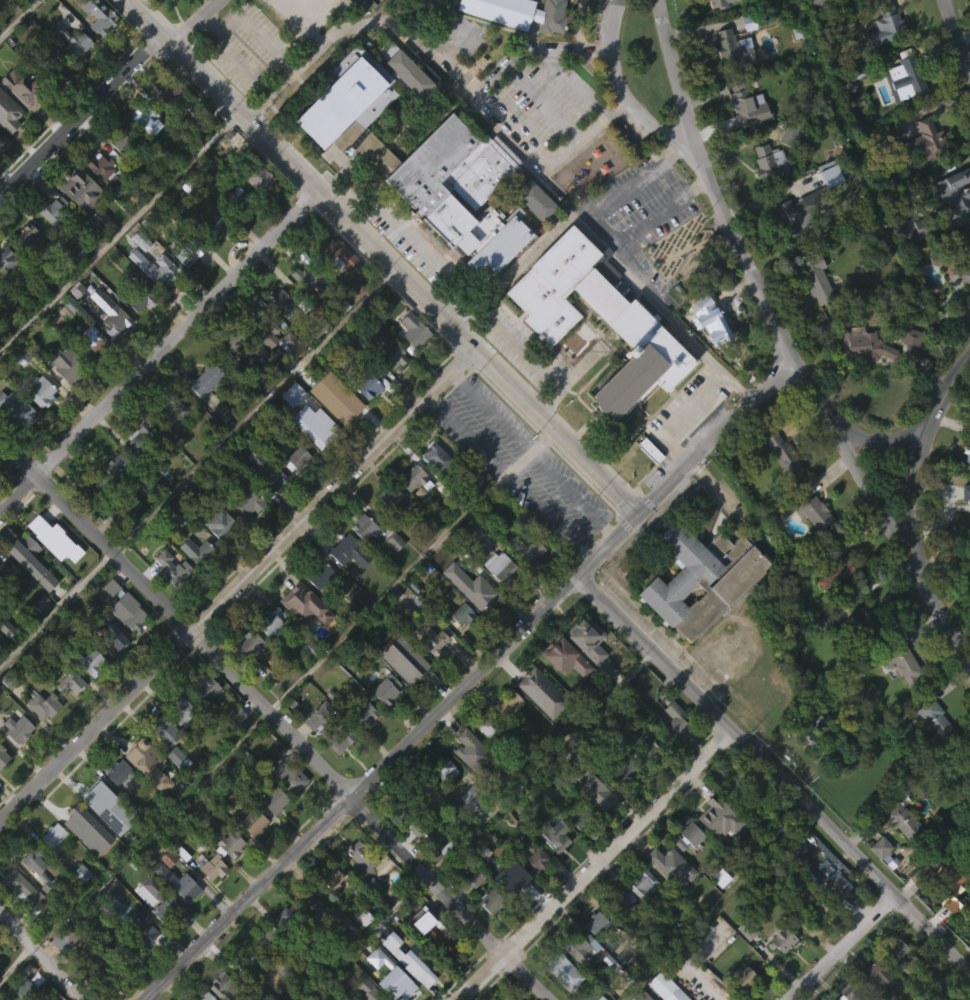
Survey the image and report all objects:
road: (272, 0)
building: (182, 1)
building: (747, 1)
building: (860, 1)
building: (718, 3)
building: (361, 7)
building: (519, 13)
building: (153, 14)
building: (99, 16)
road: (19, 19)
building: (757, 19)
building: (844, 19)
building: (888, 20)
road: (297, 21)
building: (713, 22)
road: (575, 23)
road: (958, 33)
road: (332, 35)
building: (507, 37)
building: (73, 41)
building: (96, 46)
road: (582, 47)
building: (734, 49)
building: (881, 57)
road: (441, 58)
building: (59, 64)
road: (673, 69)
road: (563, 70)
building: (409, 72)
road: (511, 72)
building: (908, 77)
building: (730, 81)
building: (22, 87)
road: (622, 87)
building: (173, 92)
road: (103, 94)
building: (57, 95)
building: (744, 102)
building: (900, 111)
building: (8, 112)
road: (502, 113)
building: (147, 117)
road: (592, 125)
building: (169, 128)
building: (797, 135)
building: (0, 136)
building: (123, 138)
building: (745, 140)
building: (925, 141)
building: (144, 152)
road: (699, 158)
building: (421, 161)
building: (768, 161)
building: (0, 167)
building: (104, 167)
building: (788, 167)
building: (120, 173)
building: (923, 173)
building: (257, 174)
road: (644, 176)
building: (84, 190)
building: (766, 193)
building: (954, 193)
building: (538, 199)
building: (102, 201)
building: (238, 201)
building: (826, 205)
building: (55, 209)
building: (256, 210)
building: (800, 211)
road: (665, 215)
building: (79, 222)
building: (211, 223)
building: (952, 225)
building: (236, 230)
building: (532, 233)
road: (409, 234)
building: (30, 236)
building: (53, 243)
road: (686, 245)
building: (792, 245)
road: (604, 250)
building: (95, 251)
road: (388, 251)
building: (189, 252)
building: (337, 252)
road: (528, 253)
building: (212, 256)
building: (916, 259)
building: (9, 262)
building: (27, 268)
building: (163, 269)
building: (138, 271)
building: (967, 272)
building: (309, 276)
building: (814, 279)
building: (185, 285)
building: (336, 286)
building: (933, 290)
building: (5, 291)
building: (135, 291)
building: (121, 297)
building: (281, 299)
building: (161, 301)
building: (964, 307)
building: (305, 309)
building: (111, 310)
building: (812, 311)
building: (713, 321)
building: (75, 322)
building: (258, 322)
building: (2, 329)
building: (415, 329)
building: (634, 330)
road: (679, 330)
building: (277, 332)
building: (138, 333)
building: (912, 336)
building: (235, 339)
building: (91, 340)
building: (107, 341)
building: (866, 345)
road: (161, 350)
building: (391, 352)
road: (527, 353)
building: (409, 361)
building: (266, 363)
building: (66, 364)
building: (907, 369)
building: (228, 372)
building: (89, 373)
building: (285, 373)
road: (803, 373)
building: (205, 378)
building: (861, 379)
building: (369, 380)
building: (386, 384)
road: (949, 389)
building: (19, 390)
building: (41, 390)
building: (296, 396)
building: (66, 398)
building: (346, 405)
building: (171, 409)
building: (16, 410)
building: (202, 411)
building: (365, 415)
road: (677, 416)
building: (38, 422)
building: (292, 428)
building: (318, 431)
road: (883, 436)
building: (143, 438)
building: (14, 441)
building: (165, 443)
building: (219, 443)
building: (652, 449)
building: (781, 452)
road: (532, 453)
building: (298, 456)
building: (437, 456)
building: (968, 456)
road: (200, 462)
building: (117, 464)
building: (314, 464)
building: (138, 469)
building: (267, 469)
road: (509, 476)
building: (410, 477)
building: (646, 481)
building: (778, 485)
building: (92, 487)
building: (965, 487)
building: (292, 490)
building: (433, 490)
road: (920, 493)
building: (114, 497)
building: (250, 499)
building: (391, 499)
building: (472, 510)
building: (811, 510)
building: (150, 511)
building: (412, 511)
building: (967, 511)
building: (89, 518)
building: (366, 526)
building: (387, 527)
building: (48, 530)
building: (246, 534)
building: (480, 534)
building: (810, 545)
building: (969, 549)
building: (177, 550)
building: (198, 551)
building: (533, 551)
building: (216, 554)
building: (362, 559)
building: (34, 561)
road: (411, 567)
building: (842, 567)
building: (173, 568)
building: (504, 569)
building: (51, 571)
building: (392, 573)
building: (454, 574)
building: (9, 576)
building: (322, 578)
building: (704, 578)
building: (193, 582)
road: (240, 582)
building: (346, 583)
building: (528, 583)
building: (28, 592)
building: (480, 592)
building: (496, 597)
building: (169, 599)
building: (6, 603)
building: (301, 603)
building: (833, 606)
building: (125, 607)
road: (941, 611)
building: (698, 612)
building: (463, 614)
building: (109, 620)
building: (271, 621)
building: (866, 626)
building: (355, 630)
building: (36, 632)
building: (113, 636)
building: (302, 636)
building: (586, 638)
building: (434, 640)
building: (251, 645)
building: (458, 645)
building: (861, 650)
building: (269, 653)
building: (562, 656)
building: (4, 660)
building: (89, 661)
building: (902, 662)
building: (110, 667)
building: (411, 668)
building: (584, 671)
building: (430, 672)
building: (248, 677)
road: (469, 680)
building: (71, 681)
building: (206, 687)
building: (387, 689)
building: (561, 689)
building: (541, 691)
building: (87, 693)
building: (899, 696)
building: (510, 703)
building: (44, 705)
building: (185, 711)
building: (267, 711)
building: (364, 712)
building: (68, 714)
building: (203, 717)
building: (935, 718)
road: (275, 719)
building: (383, 720)
building: (675, 722)
building: (539, 724)
building: (332, 726)
building: (491, 727)
building: (18, 729)
building: (163, 729)
building: (506, 735)
building: (41, 737)
building: (179, 741)
building: (361, 744)
building: (316, 747)
building: (467, 747)
building: (930, 750)
building: (810, 752)
building: (649, 753)
building: (673, 754)
building: (3, 756)
building: (178, 758)
building: (486, 758)
building: (161, 761)
building: (444, 768)
building: (121, 770)
building: (337, 771)
building: (624, 772)
road: (773, 772)
building: (289, 776)
building: (466, 780)
building: (741, 786)
building: (2, 787)
building: (172, 787)
building: (422, 789)
building: (98, 792)
building: (600, 795)
building: (145, 796)
building: (274, 800)
building: (441, 800)
building: (114, 802)
building: (618, 805)
building: (403, 808)
building: (75, 813)
building: (582, 818)
building: (420, 820)
building: (253, 822)
building: (453, 822)
building: (906, 823)
road: (476, 825)
building: (466, 829)
road: (148, 830)
building: (271, 831)
building: (423, 831)
building: (778, 831)
building: (687, 835)
building: (556, 836)
building: (55, 837)
building: (105, 839)
building: (231, 845)
building: (715, 848)
building: (899, 852)
building: (250, 853)
building: (669, 857)
building: (362, 858)
building: (84, 861)
building: (418, 862)
building: (536, 862)
road: (595, 865)
building: (39, 867)
building: (212, 867)
building: (685, 868)
building: (52, 869)
building: (553, 870)
building: (951, 874)
building: (228, 875)
building: (923, 876)
building: (333, 878)
building: (443, 879)
building: (877, 879)
building: (515, 882)
building: (643, 883)
building: (184, 888)
building: (165, 889)
building: (357, 890)
building: (533, 892)
building: (21, 893)
building: (209, 897)
building: (667, 897)
building: (158, 899)
building: (492, 901)
building: (622, 903)
building: (78, 905)
building: (309, 905)
building: (817, 907)
building: (329, 908)
building: (472, 909)
building: (513, 910)
building: (832, 912)
building: (176, 914)
building: (639, 915)
building: (945, 915)
building: (290, 917)
building: (367, 920)
building: (600, 920)
building: (19, 922)
building: (139, 927)
building: (153, 929)
building: (108, 932)
building: (488, 933)
building: (620, 933)
building: (307, 936)
building: (267, 939)
building: (439, 939)
building: (783, 939)
building: (811, 943)
road: (843, 947)
building: (283, 948)
building: (578, 949)
building: (122, 951)
building: (897, 951)
building: (341, 952)
building: (593, 953)
road: (38, 957)
building: (135, 957)
road: (15, 962)
building: (97, 964)
building: (248, 964)
building: (425, 967)
building: (562, 968)
building: (61, 971)
building: (261, 971)
building: (780, 972)
building: (579, 978)
building: (740, 979)
building: (877, 980)
building: (892, 981)
building: (402, 986)
building: (89, 987)
building: (225, 987)
building: (667, 987)
building: (27, 989)
building: (369, 989)
building: (853, 992)
building: (245, 993)
building: (606, 993)
building: (555, 994)
building: (206, 996)
building: (337, 996)
building: (870, 996)
building: (51, 998)
building: (391, 998)
building: (45, 999)
building: (743, 999)

